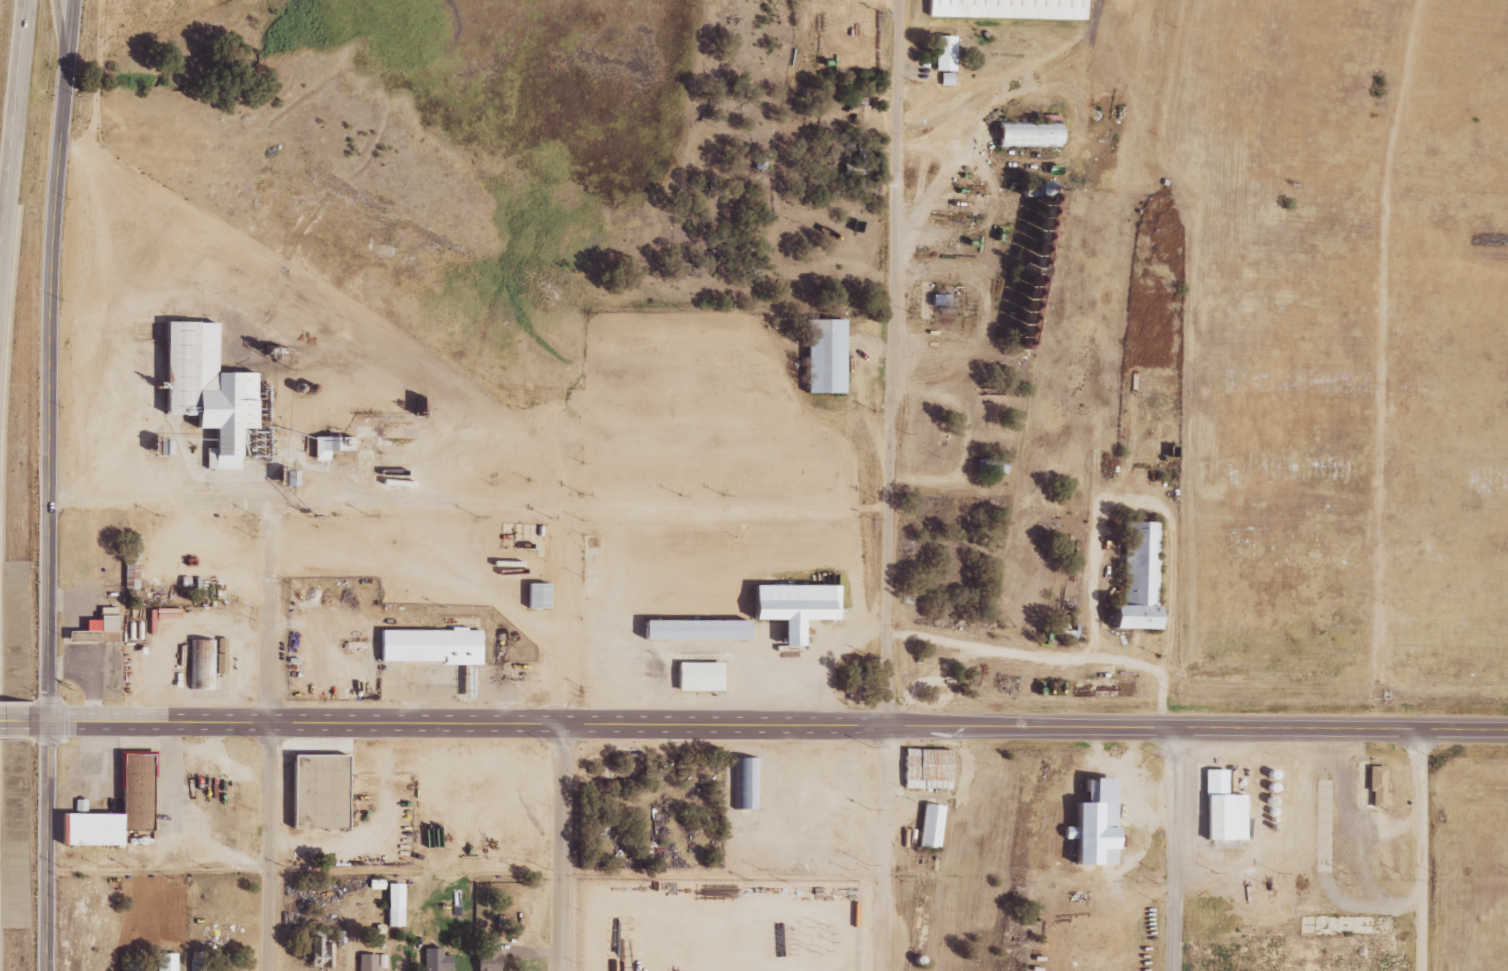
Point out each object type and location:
building: (1018, 10)
road: (61, 39)
building: (942, 53)
building: (945, 79)
building: (856, 108)
road: (15, 132)
building: (1025, 135)
building: (835, 359)
building: (219, 387)
building: (329, 445)
road: (48, 484)
road: (890, 485)
railway: (1068, 485)
road: (469, 508)
building: (131, 547)
building: (129, 574)
building: (1149, 579)
building: (535, 595)
building: (547, 595)
building: (806, 607)
road: (272, 615)
building: (97, 627)
building: (705, 629)
building: (442, 646)
road: (1053, 657)
building: (205, 662)
building: (709, 677)
building: (460, 681)
road: (13, 720)
road: (767, 725)
building: (937, 770)
building: (147, 782)
building: (745, 783)
building: (1372, 788)
building: (330, 791)
building: (1219, 808)
building: (1091, 824)
building: (928, 826)
building: (941, 828)
road: (269, 847)
road: (561, 847)
road: (1173, 849)
road: (1420, 849)
road: (465, 876)
building: (392, 905)
building: (322, 946)
building: (485, 959)
building: (433, 960)
building: (379, 961)
building: (164, 962)
building: (365, 962)
building: (197, 964)

